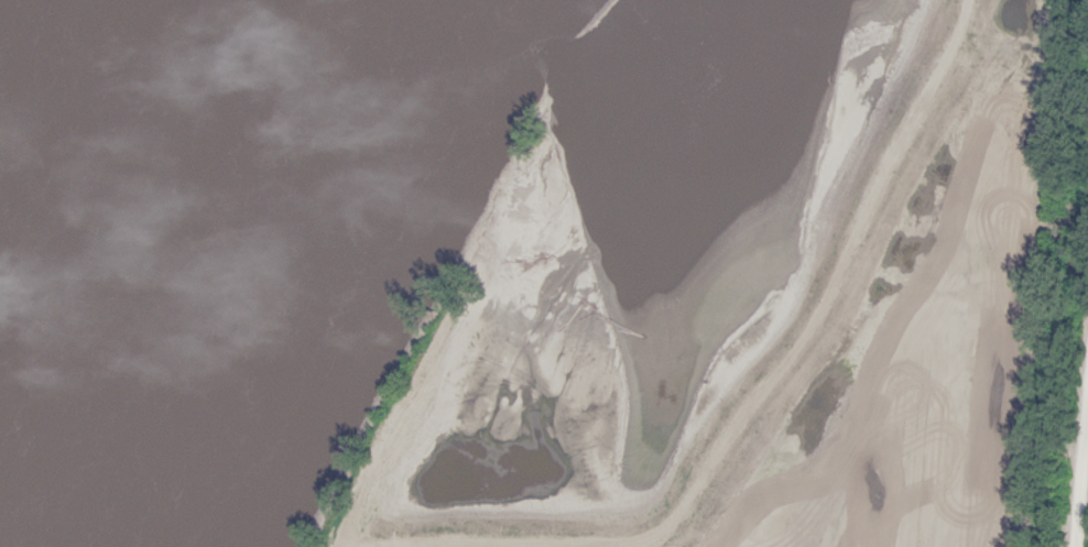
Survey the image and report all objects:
road: (496, 270)
road: (1082, 492)

